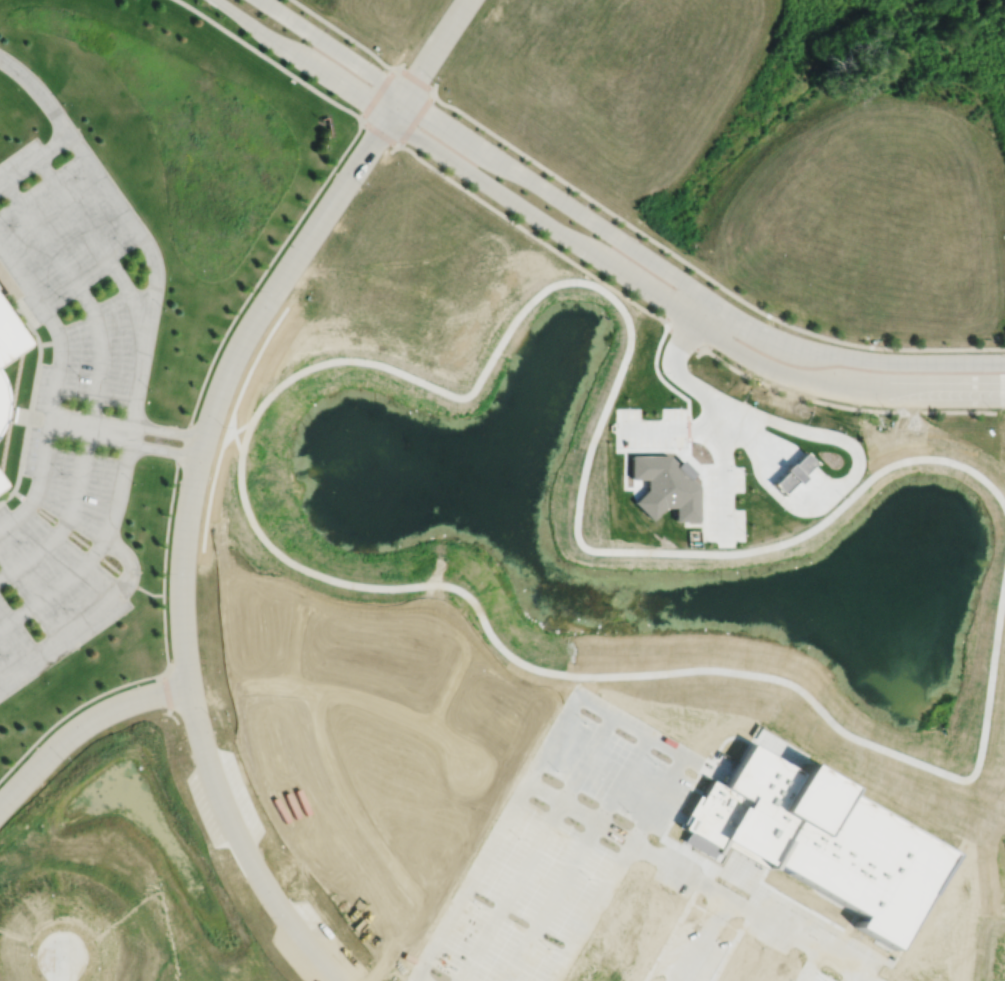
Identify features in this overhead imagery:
road: (345, 34)
road: (335, 47)
road: (437, 47)
road: (304, 58)
road: (271, 60)
road: (416, 79)
road: (377, 94)
road: (417, 119)
road: (380, 133)
road: (35, 159)
gas station: (931, 182)
road: (76, 210)
parking lot: (56, 227)
road: (136, 228)
road: (265, 273)
road: (700, 273)
road: (25, 279)
road: (686, 282)
road: (82, 290)
road: (134, 297)
road: (22, 309)
road: (677, 311)
road: (681, 334)
building: (9, 336)
road: (51, 342)
parking lot: (98, 356)
road: (61, 361)
road: (231, 369)
road: (36, 381)
building: (1, 402)
road: (17, 414)
road: (52, 421)
road: (129, 424)
road: (91, 427)
road: (126, 441)
road: (184, 444)
road: (24, 454)
road: (41, 476)
building: (1, 487)
road: (121, 491)
road: (7, 497)
road: (66, 522)
road: (9, 523)
road: (169, 523)
road: (86, 546)
parking lot: (56, 559)
road: (131, 560)
road: (57, 588)
road: (165, 634)
road: (61, 635)
road: (168, 698)
road: (72, 710)
road: (82, 726)
road: (646, 816)
road: (493, 837)
road: (244, 846)
building: (826, 847)
road: (533, 848)
road: (575, 858)
road: (700, 880)
road: (697, 937)
road: (806, 964)
road: (60, 967)
road: (848, 974)
road: (417, 978)

